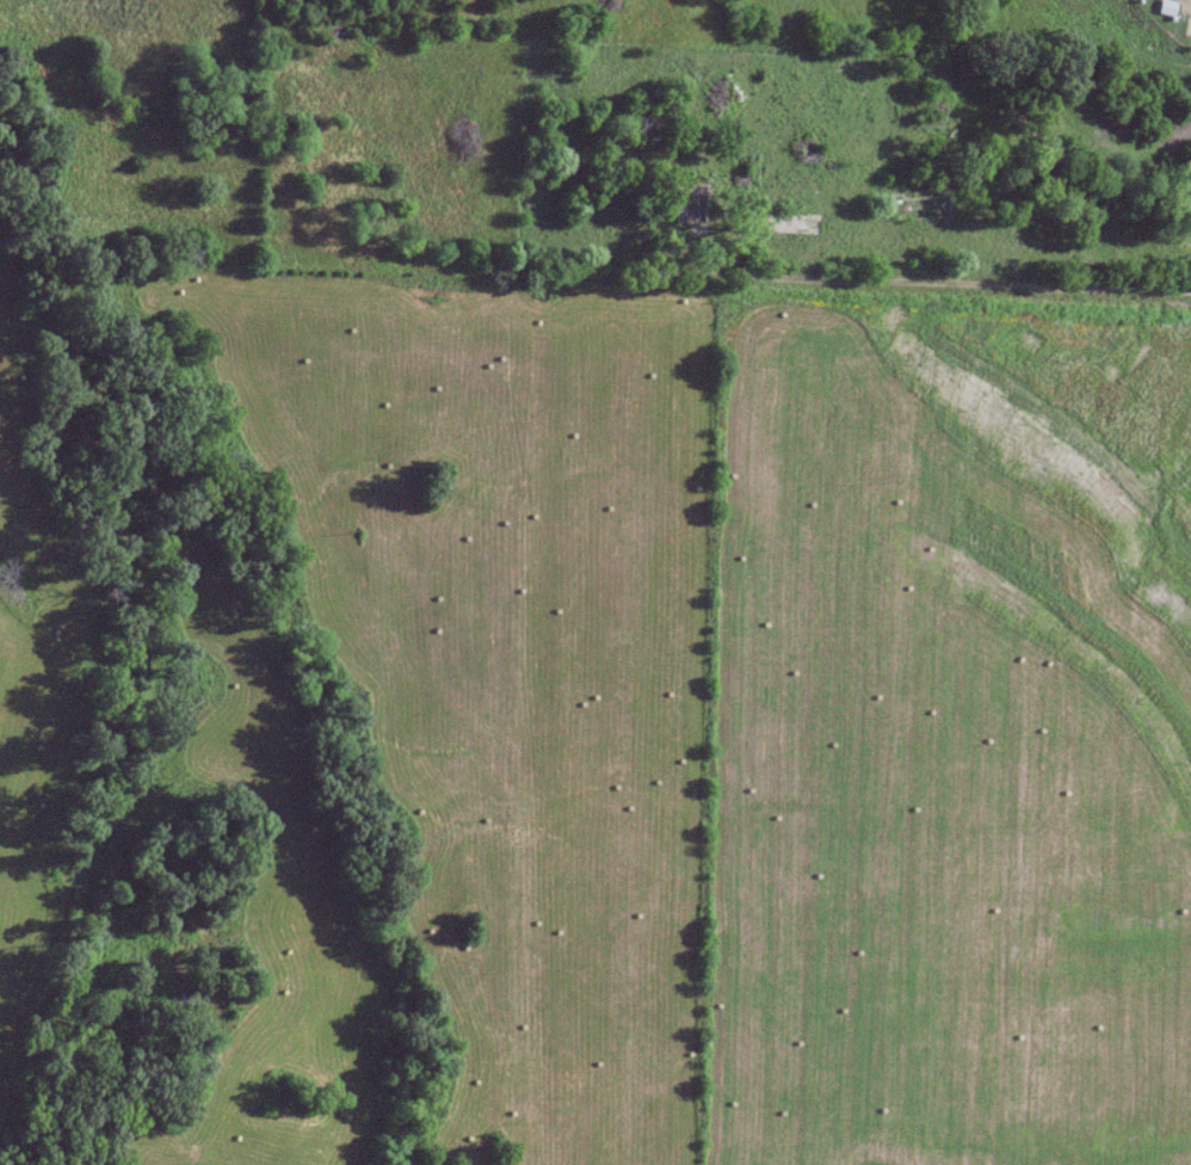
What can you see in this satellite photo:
building: (720, 101)
building: (690, 207)
road: (945, 254)
crop: (949, 733)

